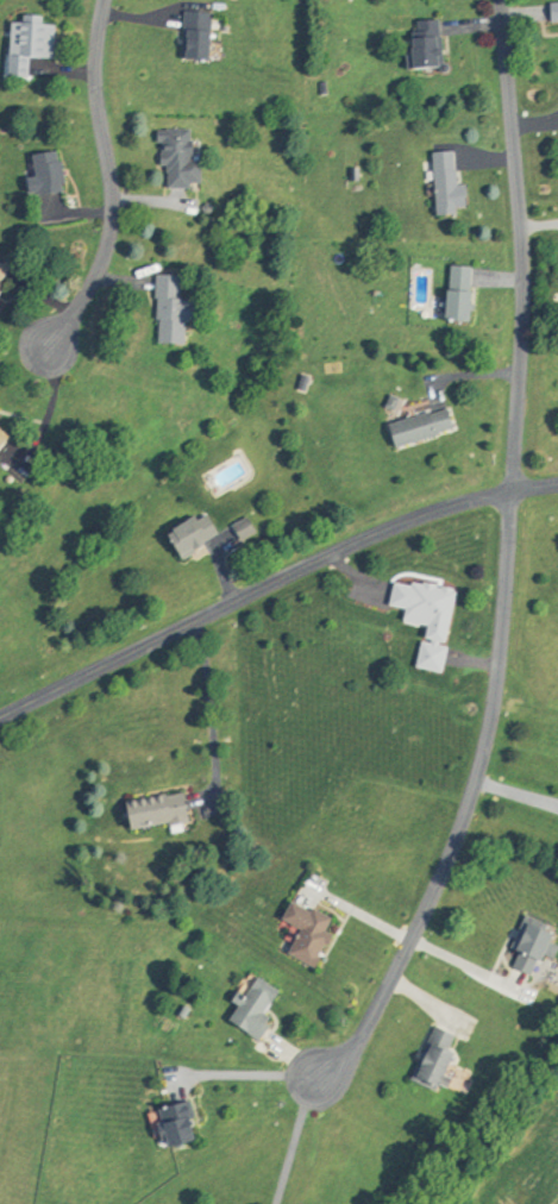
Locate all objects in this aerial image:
building: (550, 13)
building: (190, 38)
building: (21, 45)
building: (416, 45)
building: (174, 158)
building: (39, 175)
building: (440, 186)
road: (105, 188)
road: (518, 243)
building: (0, 266)
building: (451, 296)
building: (164, 308)
building: (414, 426)
building: (0, 433)
building: (237, 528)
building: (183, 533)
road: (272, 579)
building: (420, 616)
road: (214, 715)
road: (515, 794)
road: (468, 803)
building: (148, 811)
building: (300, 930)
building: (521, 947)
road: (465, 965)
building: (247, 1008)
building: (427, 1056)
road: (245, 1070)
building: (167, 1122)
road: (295, 1140)

